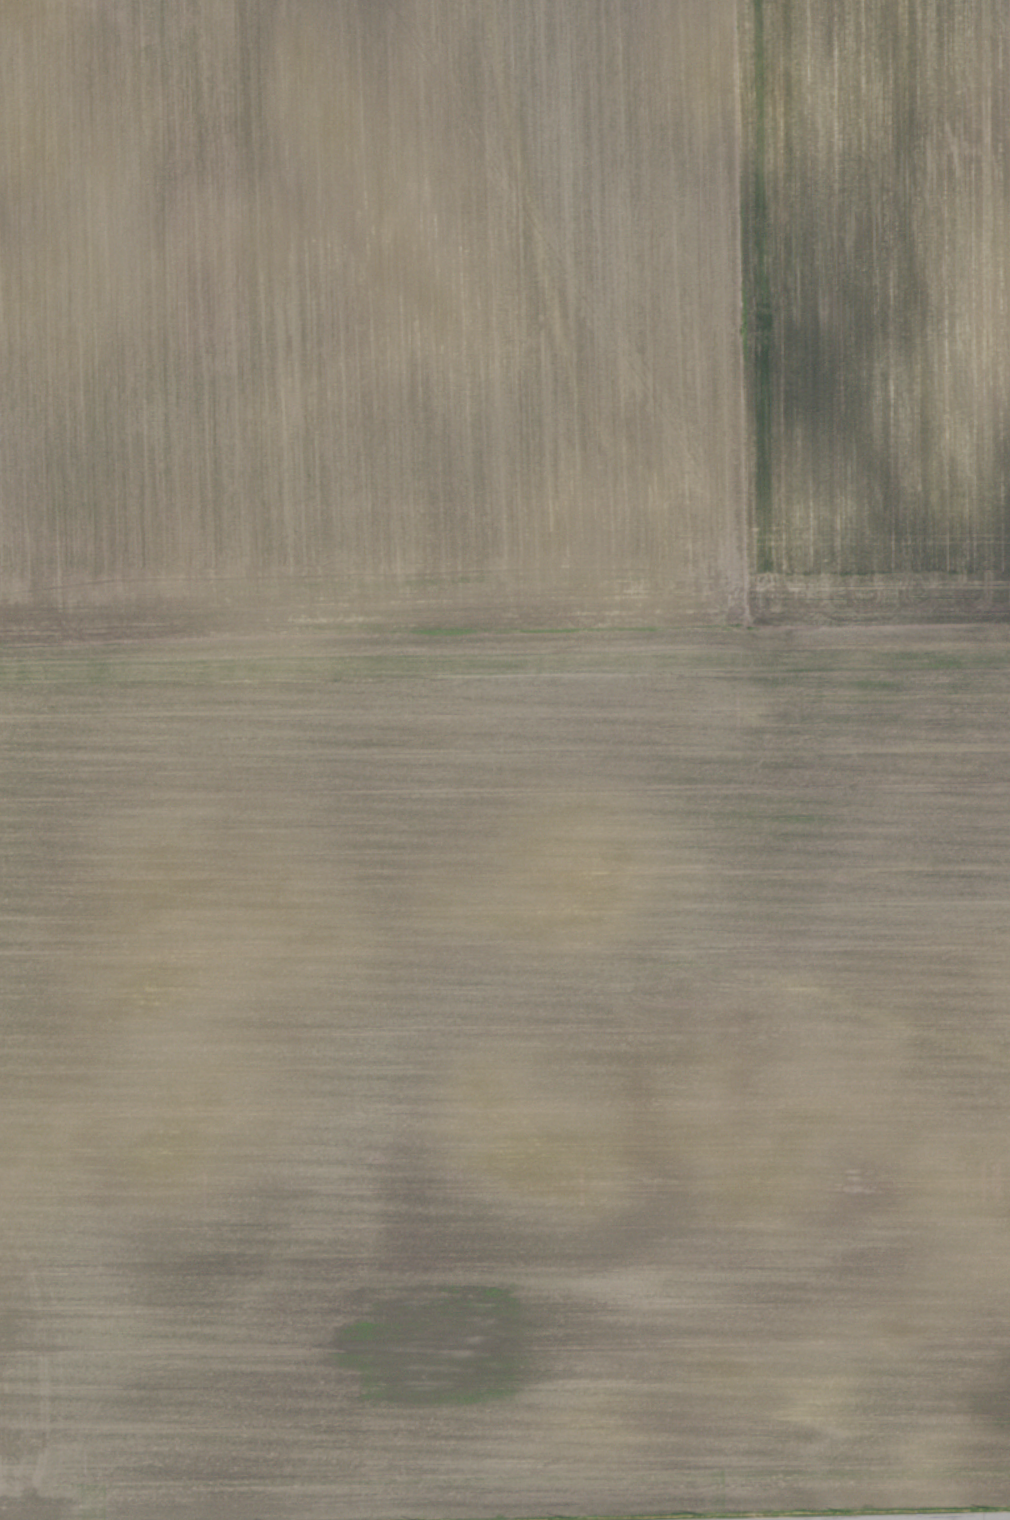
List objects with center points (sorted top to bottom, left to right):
road: (1003, 1519)

